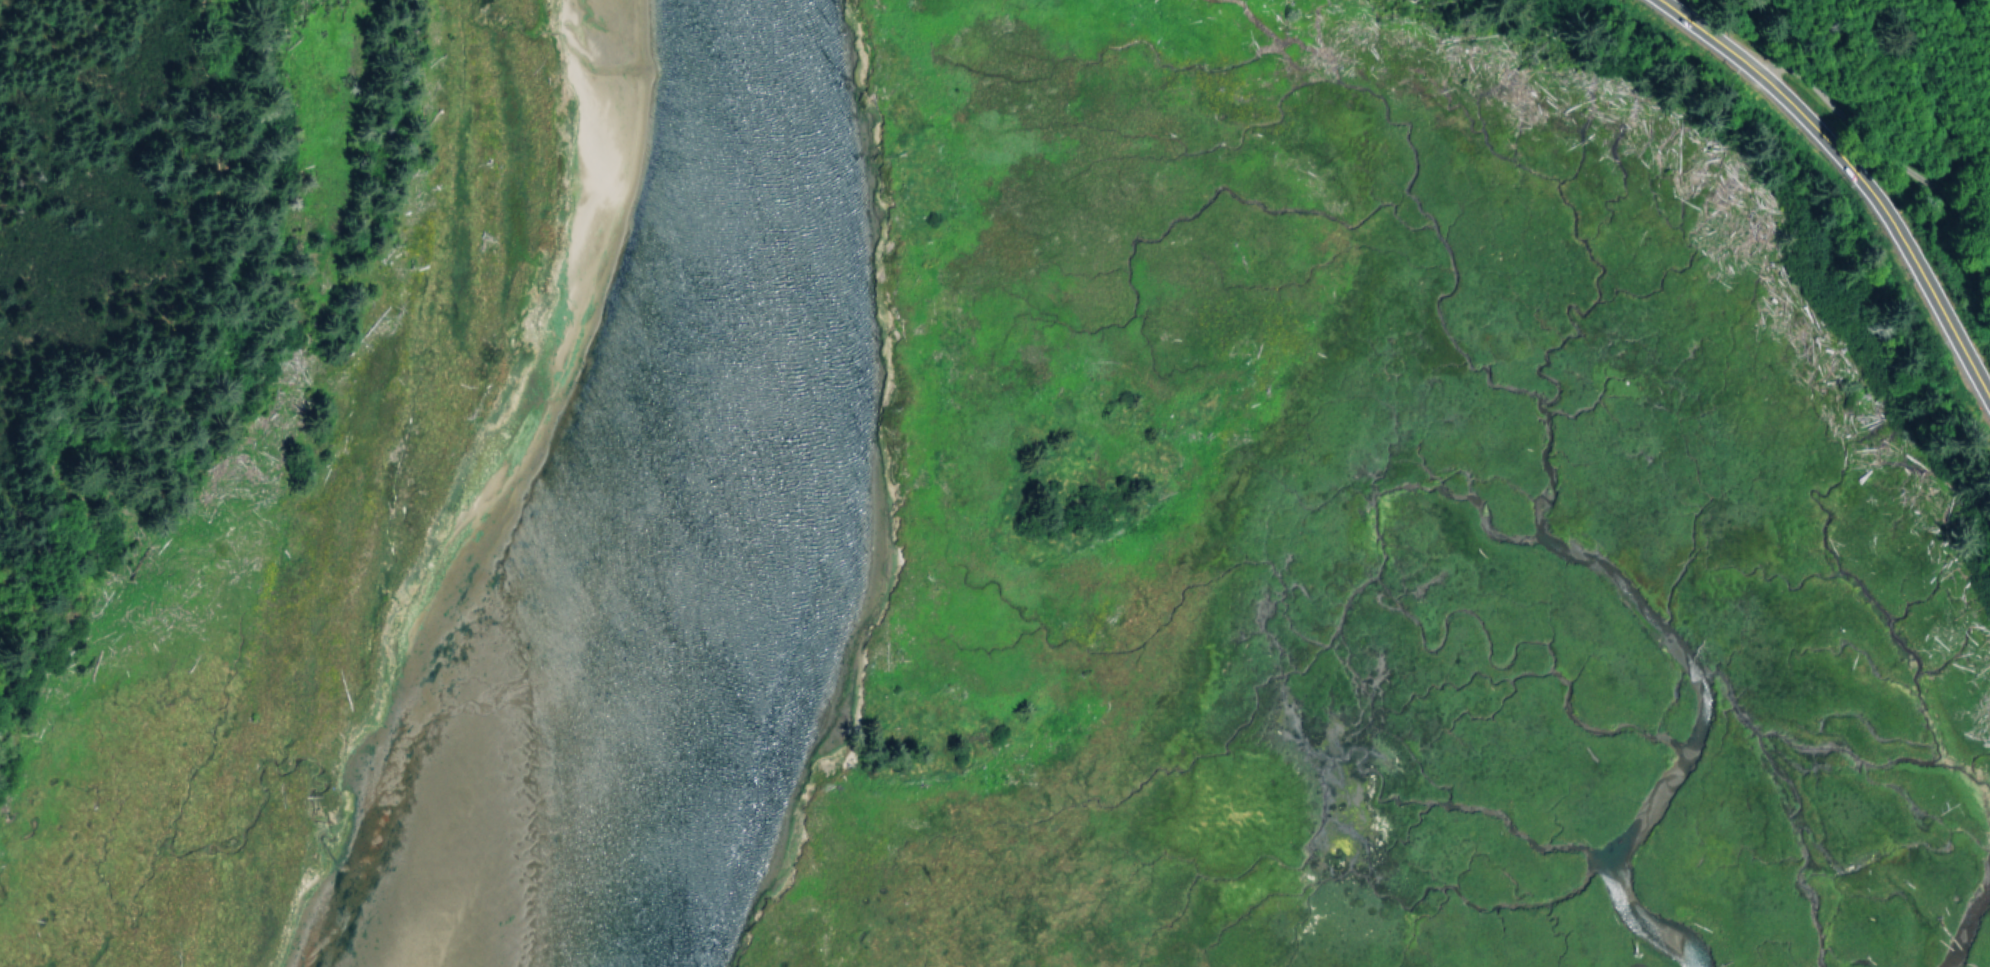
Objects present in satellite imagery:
road: (1877, 129)
road: (1856, 172)
river: (691, 491)

